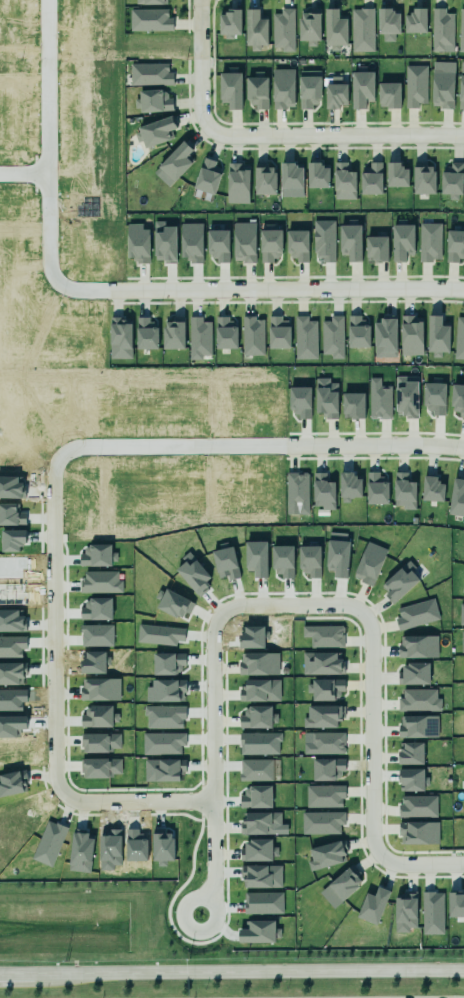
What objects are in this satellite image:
building: (149, 1)
building: (150, 20)
building: (414, 20)
building: (388, 21)
building: (228, 23)
building: (309, 27)
building: (255, 28)
building: (362, 28)
building: (440, 28)
building: (283, 30)
building: (335, 30)
building: (460, 30)
road: (201, 64)
building: (150, 74)
building: (442, 84)
building: (414, 85)
building: (363, 86)
building: (283, 88)
building: (229, 90)
building: (255, 91)
building: (308, 91)
building: (460, 92)
building: (336, 93)
building: (388, 94)
building: (153, 101)
road: (48, 109)
building: (155, 132)
road: (335, 134)
building: (174, 164)
building: (395, 175)
building: (317, 176)
building: (207, 177)
building: (371, 177)
building: (265, 179)
building: (292, 180)
building: (424, 180)
building: (451, 181)
building: (344, 182)
building: (238, 183)
building: (324, 240)
building: (190, 241)
building: (402, 241)
building: (137, 242)
building: (164, 242)
building: (244, 242)
building: (351, 242)
building: (429, 242)
building: (218, 245)
building: (270, 245)
building: (297, 245)
building: (455, 245)
building: (376, 248)
road: (50, 250)
road: (285, 288)
building: (145, 331)
building: (358, 332)
building: (226, 333)
building: (279, 333)
building: (173, 335)
building: (411, 335)
building: (253, 336)
building: (303, 336)
building: (384, 336)
building: (332, 337)
building: (437, 337)
building: (120, 338)
building: (199, 338)
building: (459, 338)
building: (326, 396)
building: (407, 396)
building: (434, 398)
building: (300, 399)
building: (379, 400)
building: (457, 400)
building: (353, 405)
road: (165, 444)
road: (382, 446)
building: (433, 486)
building: (349, 487)
building: (376, 489)
building: (323, 491)
building: (404, 491)
building: (297, 493)
building: (457, 494)
building: (309, 558)
building: (338, 558)
building: (369, 563)
building: (400, 582)
building: (463, 590)
building: (415, 612)
building: (461, 614)
building: (324, 635)
building: (462, 645)
building: (12, 646)
building: (418, 646)
building: (259, 663)
building: (322, 664)
building: (11, 673)
building: (414, 673)
building: (325, 686)
building: (100, 689)
building: (260, 690)
building: (416, 697)
building: (322, 713)
road: (53, 715)
building: (98, 716)
building: (258, 716)
road: (212, 717)
building: (416, 725)
building: (101, 742)
building: (325, 742)
building: (411, 753)
road: (362, 755)
building: (100, 767)
building: (328, 769)
building: (256, 770)
building: (412, 780)
building: (325, 796)
building: (257, 797)
building: (418, 806)
building: (462, 808)
building: (322, 822)
building: (260, 823)
building: (418, 833)
building: (258, 850)
building: (326, 855)
building: (261, 876)
building: (345, 883)
building: (263, 903)
building: (456, 904)
building: (373, 906)
building: (405, 912)
building: (432, 912)
building: (259, 932)
road: (248, 972)
road: (2, 974)
road: (18, 974)

